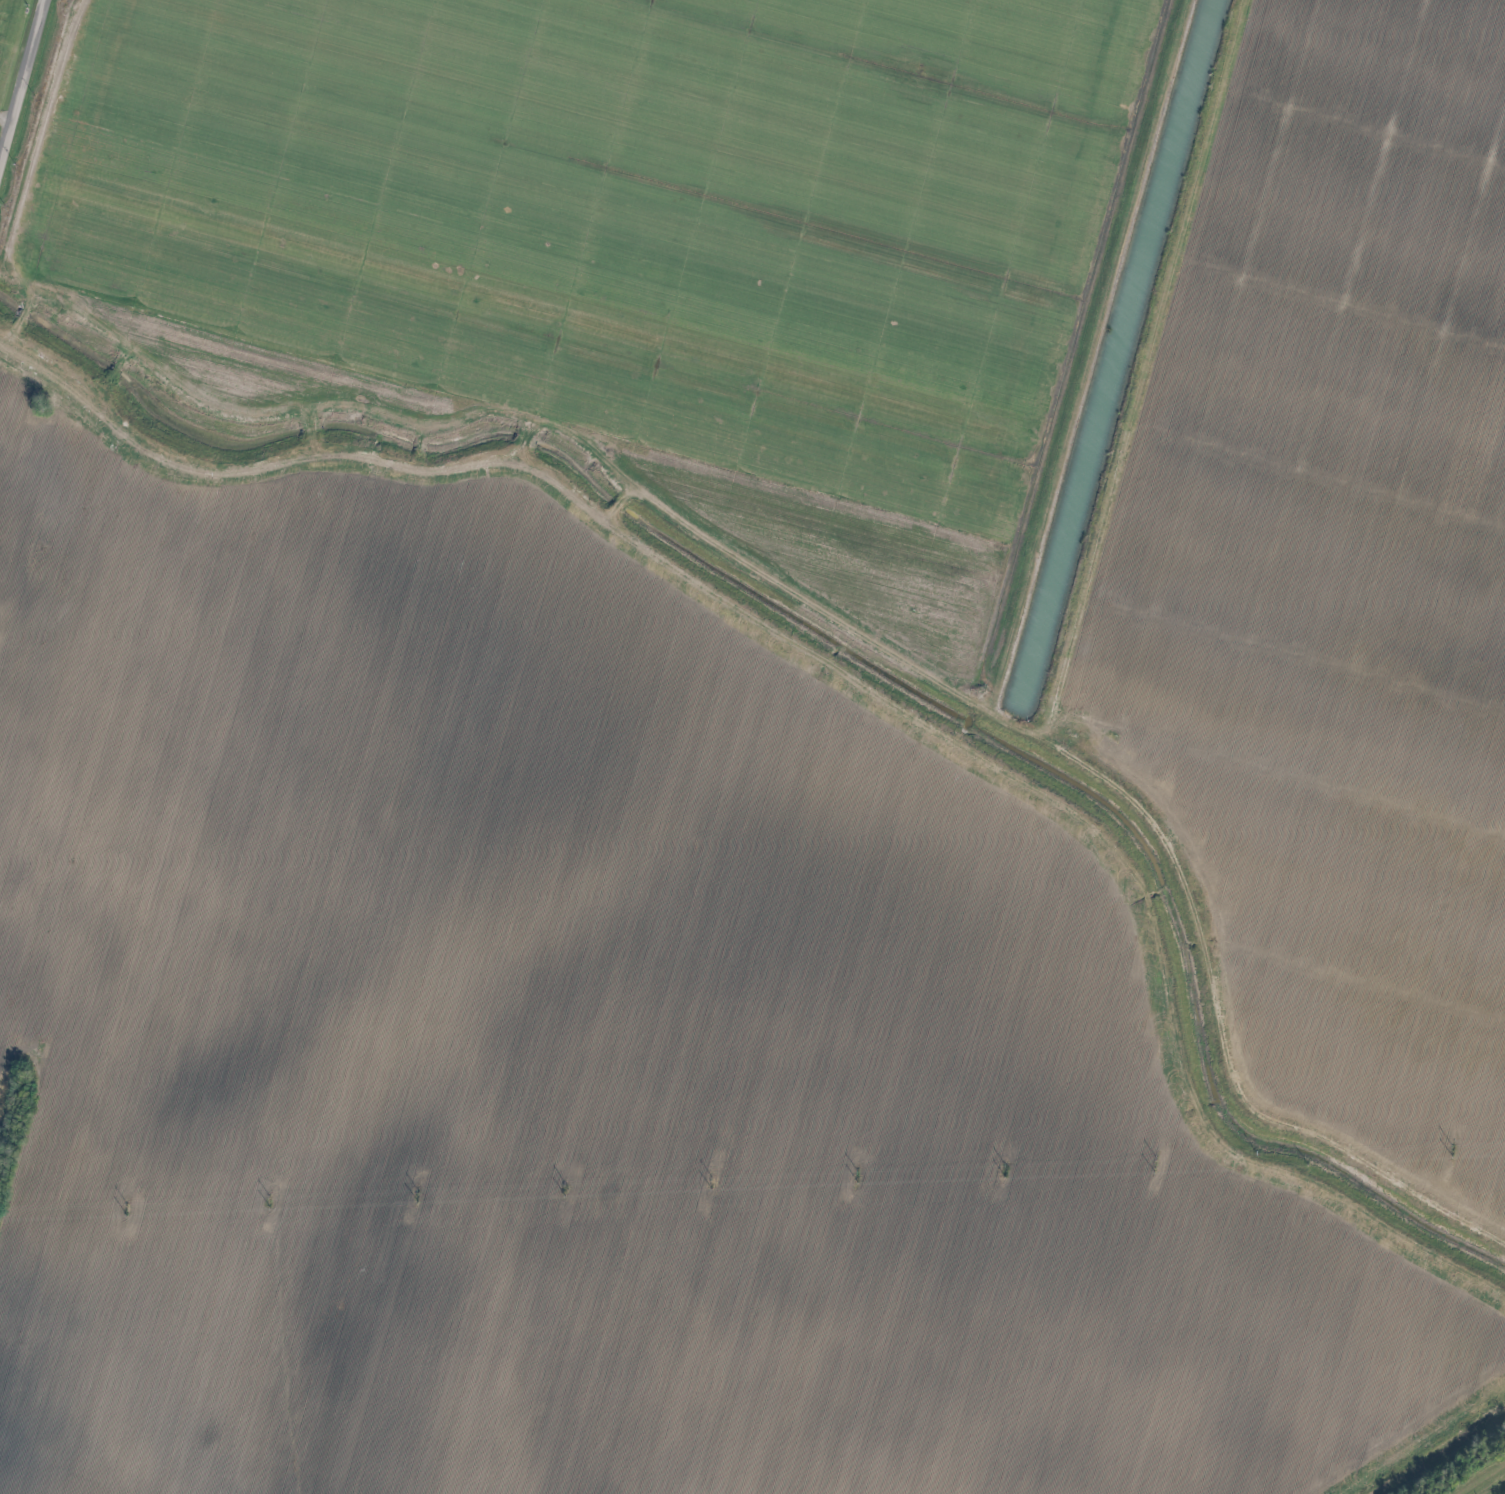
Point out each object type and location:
road: (24, 88)
railway: (1479, 1476)

